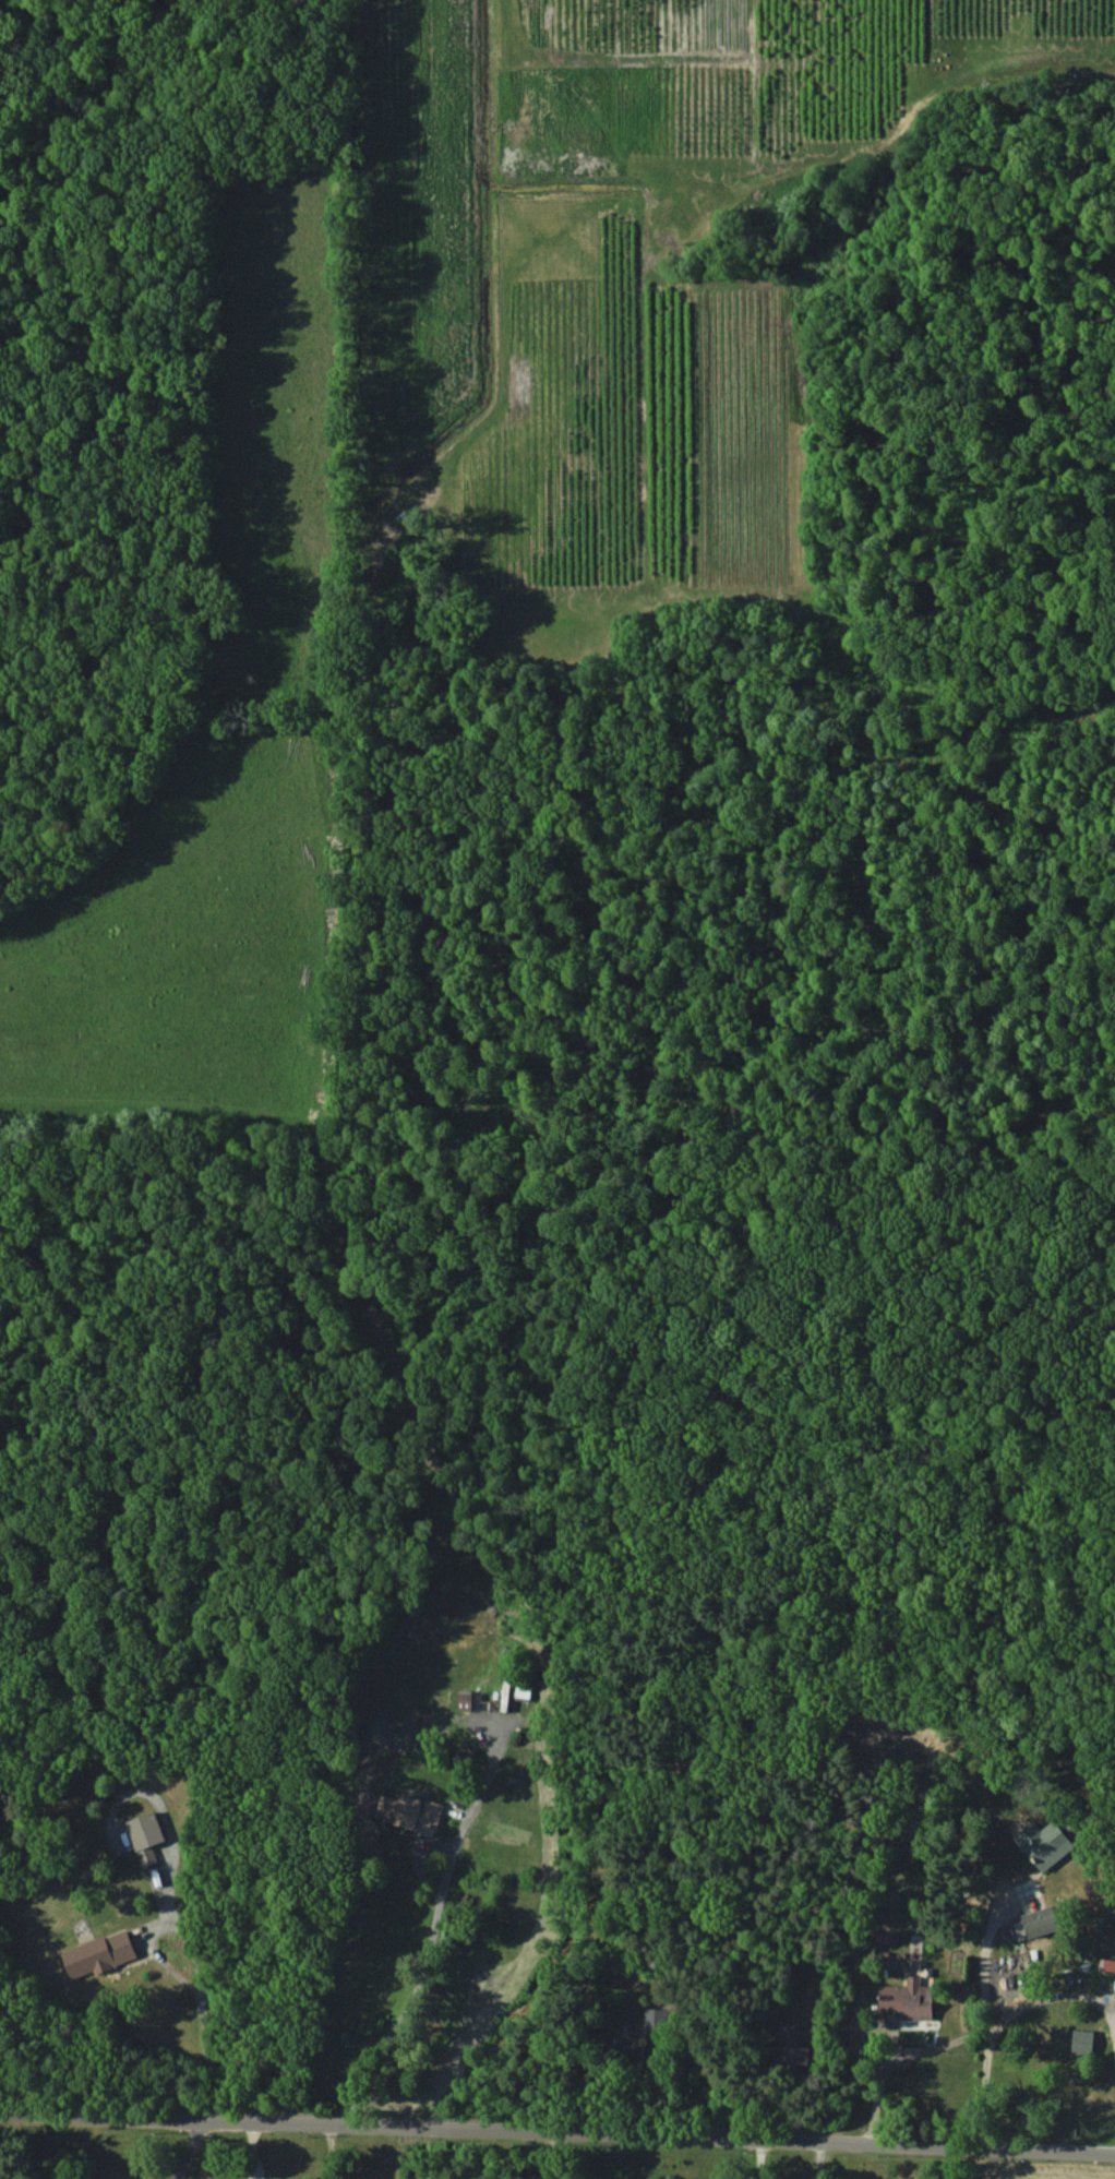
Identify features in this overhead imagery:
building: (409, 1810)
building: (145, 1835)
building: (1044, 1843)
building: (1038, 1920)
building: (99, 1953)
road: (429, 1961)
building: (1106, 1963)
road: (195, 1980)
building: (907, 1998)
road: (1024, 1999)
road: (982, 2019)
building: (1081, 2043)
building: (620, 2048)
building: (790, 2048)
road: (880, 2076)
road: (557, 2129)
road: (560, 2154)
road: (756, 2158)
road: (815, 2159)

